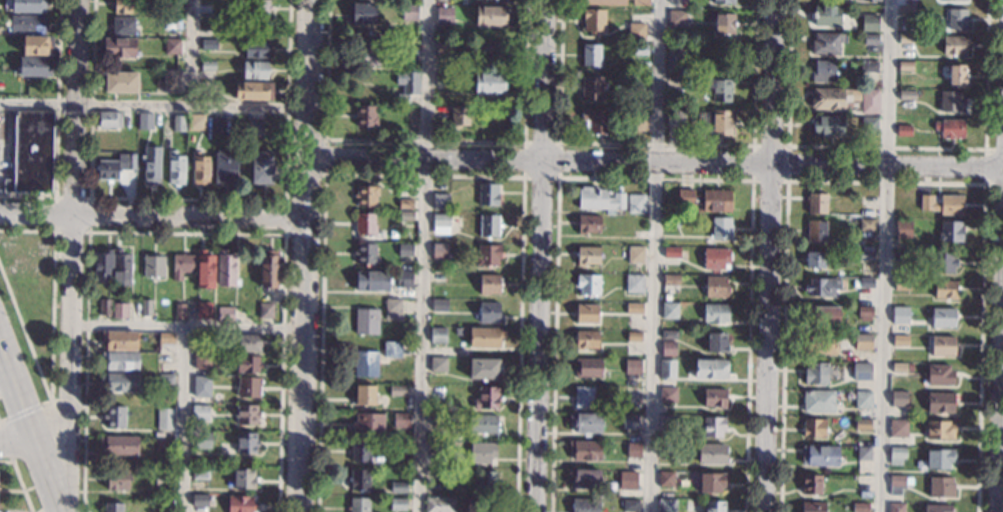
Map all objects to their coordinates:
building: (876, 0)
building: (966, 0)
building: (846, 1)
building: (605, 2)
building: (640, 2)
building: (724, 2)
building: (173, 4)
building: (28, 6)
building: (125, 6)
building: (259, 9)
building: (906, 10)
building: (409, 12)
building: (363, 13)
building: (445, 15)
building: (493, 15)
building: (826, 15)
building: (677, 18)
building: (957, 18)
building: (594, 21)
building: (869, 22)
building: (172, 23)
building: (27, 24)
building: (724, 24)
building: (123, 25)
building: (636, 31)
building: (905, 38)
building: (871, 39)
building: (208, 43)
building: (406, 43)
building: (827, 43)
building: (38, 45)
building: (956, 45)
building: (119, 46)
building: (172, 46)
building: (443, 48)
building: (255, 49)
building: (640, 49)
building: (490, 51)
building: (372, 53)
road: (193, 55)
building: (591, 55)
building: (674, 58)
building: (208, 65)
building: (35, 66)
building: (869, 66)
building: (905, 66)
building: (254, 70)
building: (824, 71)
building: (956, 74)
building: (442, 79)
building: (171, 81)
building: (121, 82)
building: (489, 82)
building: (639, 84)
building: (406, 86)
building: (592, 87)
building: (720, 88)
building: (253, 91)
building: (907, 95)
building: (870, 96)
building: (829, 98)
building: (951, 101)
road: (154, 109)
building: (365, 115)
building: (411, 116)
building: (459, 117)
building: (675, 118)
building: (109, 120)
building: (595, 120)
building: (144, 121)
building: (638, 121)
building: (195, 122)
building: (718, 122)
building: (178, 123)
road: (56, 125)
building: (217, 125)
building: (827, 125)
building: (869, 125)
building: (255, 127)
building: (949, 128)
building: (903, 130)
building: (31, 153)
road: (655, 161)
building: (130, 162)
building: (150, 164)
building: (224, 167)
building: (261, 167)
building: (175, 168)
building: (200, 168)
building: (108, 170)
building: (366, 195)
building: (487, 195)
road: (89, 196)
building: (685, 197)
road: (189, 198)
building: (599, 198)
building: (716, 200)
building: (441, 202)
building: (406, 203)
building: (817, 203)
building: (636, 204)
building: (943, 204)
road: (152, 215)
building: (405, 215)
building: (671, 221)
building: (365, 224)
building: (441, 224)
building: (588, 224)
building: (489, 225)
building: (866, 225)
building: (721, 228)
building: (902, 229)
road: (75, 230)
building: (816, 231)
building: (950, 231)
road: (184, 232)
road: (287, 234)
building: (405, 250)
building: (439, 250)
building: (671, 252)
building: (366, 253)
building: (635, 254)
road: (305, 255)
road: (423, 255)
building: (487, 255)
road: (539, 255)
building: (588, 255)
road: (652, 255)
road: (769, 255)
building: (863, 255)
road: (884, 256)
building: (900, 256)
building: (715, 258)
building: (815, 259)
building: (943, 262)
building: (181, 265)
building: (102, 266)
building: (153, 266)
building: (226, 267)
building: (268, 268)
building: (121, 269)
building: (204, 269)
building: (439, 276)
building: (404, 278)
building: (372, 280)
building: (864, 282)
building: (634, 283)
building: (671, 283)
building: (489, 284)
building: (588, 284)
building: (901, 284)
building: (717, 287)
building: (822, 287)
building: (945, 289)
building: (667, 297)
building: (439, 305)
building: (146, 306)
building: (104, 307)
building: (392, 308)
building: (634, 308)
building: (203, 309)
building: (265, 309)
building: (120, 310)
building: (669, 310)
building: (180, 311)
building: (489, 311)
building: (587, 313)
building: (715, 313)
building: (865, 313)
building: (225, 314)
building: (899, 315)
building: (823, 316)
building: (943, 317)
building: (367, 321)
road: (188, 327)
building: (669, 334)
building: (438, 336)
building: (485, 336)
building: (634, 336)
building: (840, 338)
building: (166, 339)
building: (121, 340)
building: (586, 340)
building: (900, 340)
building: (716, 342)
building: (860, 342)
building: (246, 343)
building: (820, 344)
building: (943, 345)
building: (668, 348)
building: (392, 349)
road: (51, 358)
building: (203, 358)
building: (121, 361)
building: (365, 363)
building: (247, 364)
building: (438, 364)
building: (632, 366)
building: (588, 367)
building: (899, 367)
building: (910, 367)
building: (483, 368)
building: (667, 368)
building: (863, 368)
building: (710, 369)
building: (816, 373)
building: (940, 374)
building: (166, 379)
building: (119, 382)
building: (201, 386)
building: (248, 386)
building: (397, 390)
building: (436, 392)
building: (632, 392)
building: (668, 394)
building: (364, 395)
building: (849, 396)
building: (583, 397)
building: (715, 397)
building: (486, 398)
building: (899, 398)
building: (863, 399)
building: (818, 401)
road: (67, 402)
building: (940, 402)
road: (24, 409)
building: (200, 413)
building: (247, 414)
building: (115, 417)
building: (165, 418)
road: (181, 419)
building: (400, 419)
building: (436, 419)
building: (630, 421)
building: (585, 422)
building: (667, 422)
building: (368, 424)
building: (483, 424)
building: (863, 424)
building: (898, 424)
building: (712, 427)
building: (814, 428)
building: (939, 430)
road: (30, 435)
building: (203, 440)
road: (16, 441)
building: (246, 442)
road: (6, 443)
building: (164, 443)
building: (119, 445)
building: (436, 447)
building: (585, 450)
building: (633, 450)
building: (360, 451)
building: (668, 451)
road: (1001, 452)
building: (483, 453)
building: (712, 453)
building: (863, 453)
building: (819, 455)
building: (896, 455)
building: (939, 458)
building: (604, 471)
building: (199, 472)
building: (435, 474)
building: (163, 477)
building: (243, 478)
building: (586, 478)
building: (666, 478)
road: (20, 479)
building: (118, 479)
building: (359, 479)
building: (627, 480)
building: (485, 482)
building: (711, 482)
building: (810, 484)
building: (898, 484)
building: (398, 487)
building: (941, 487)
building: (449, 490)
building: (828, 499)
building: (199, 500)
building: (240, 503)
building: (398, 504)
building: (358, 505)
building: (440, 505)
building: (585, 505)
building: (629, 505)
building: (666, 505)
building: (714, 506)
building: (113, 507)
building: (813, 507)
building: (860, 507)
building: (896, 507)
building: (937, 508)

